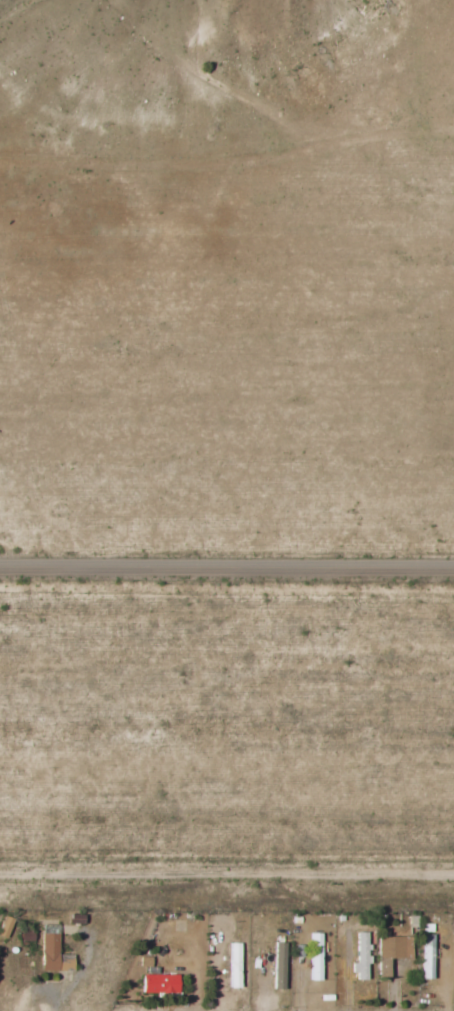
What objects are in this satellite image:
road: (227, 566)
building: (4, 926)
building: (25, 934)
building: (394, 947)
building: (52, 954)
building: (314, 956)
building: (427, 956)
building: (360, 957)
building: (233, 965)
building: (278, 965)
building: (158, 983)

